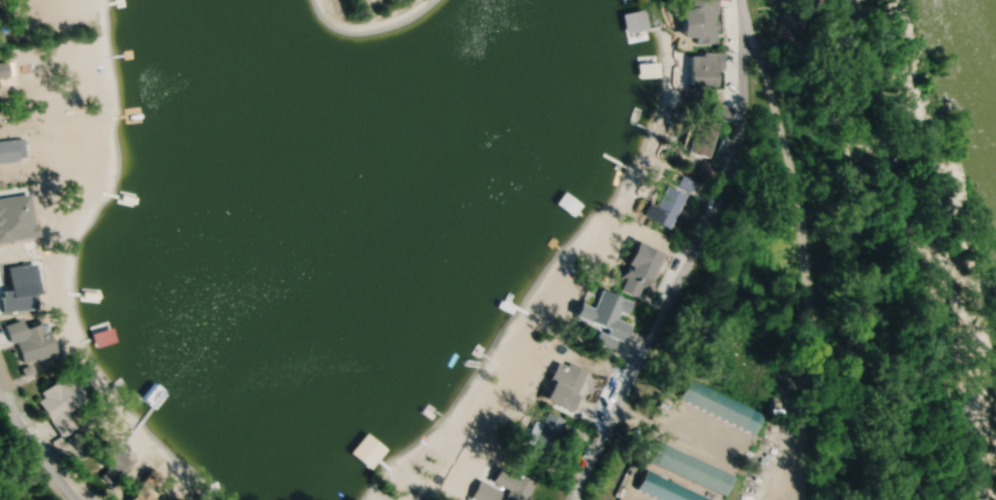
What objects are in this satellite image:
building: (704, 21)
building: (704, 71)
building: (699, 138)
building: (10, 151)
building: (665, 202)
road: (685, 255)
building: (637, 269)
building: (19, 298)
building: (604, 313)
building: (28, 343)
building: (560, 395)
building: (60, 405)
building: (717, 405)
building: (545, 433)
road: (32, 449)
building: (111, 460)
building: (688, 468)
building: (504, 487)
building: (663, 489)

